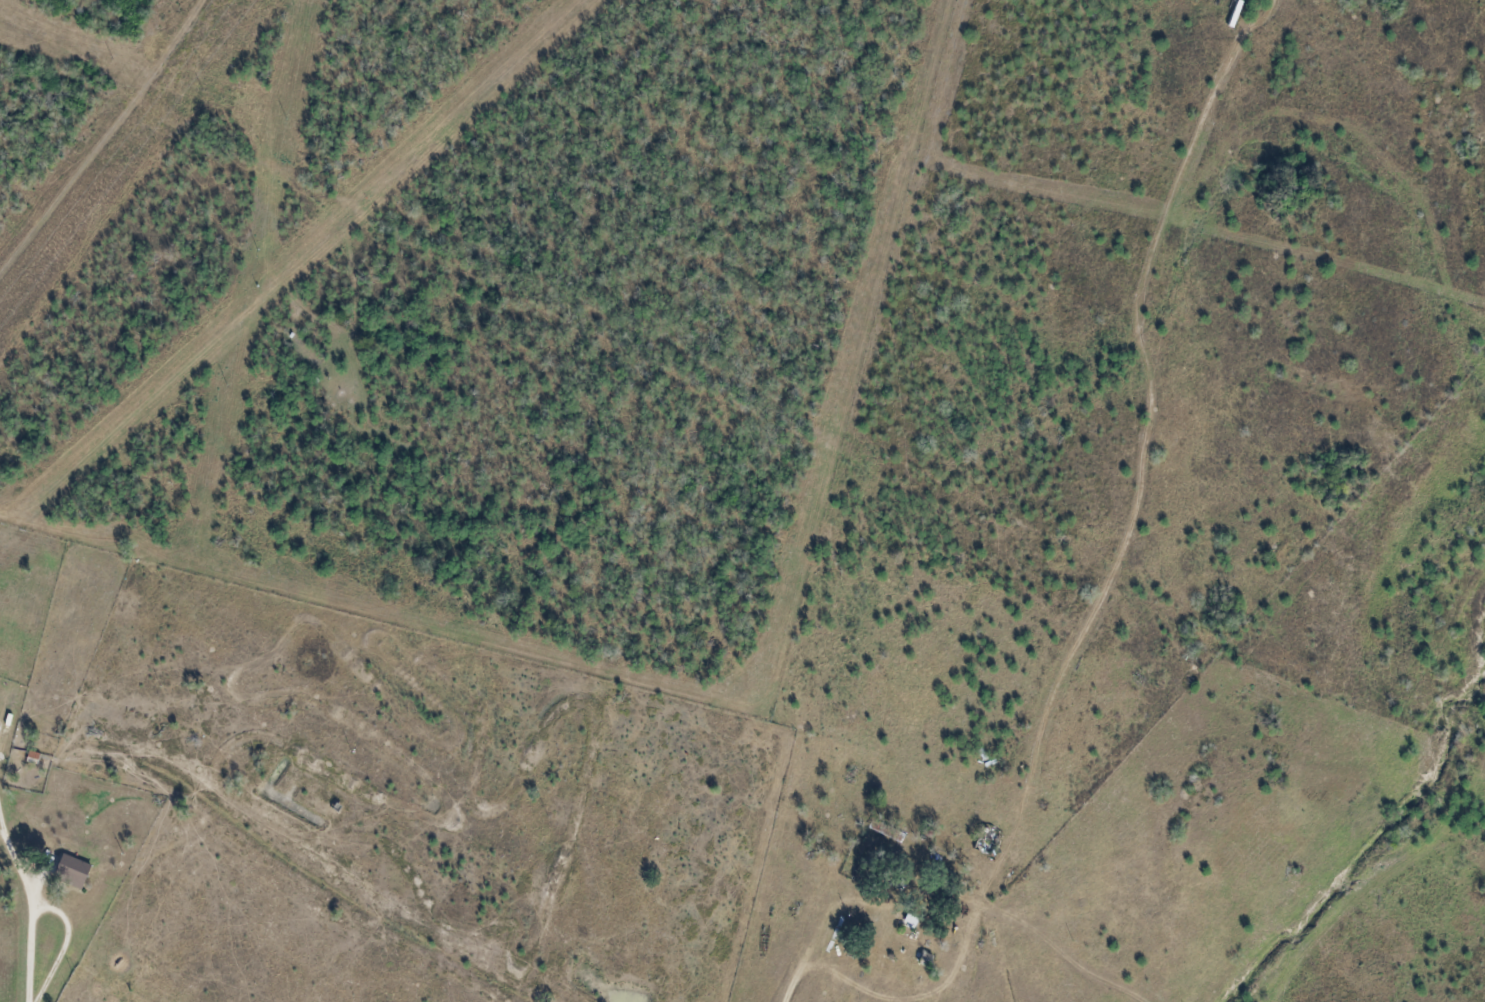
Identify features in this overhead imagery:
building: (1, 715)
building: (12, 728)
building: (39, 758)
building: (991, 839)
building: (78, 871)
building: (885, 912)

